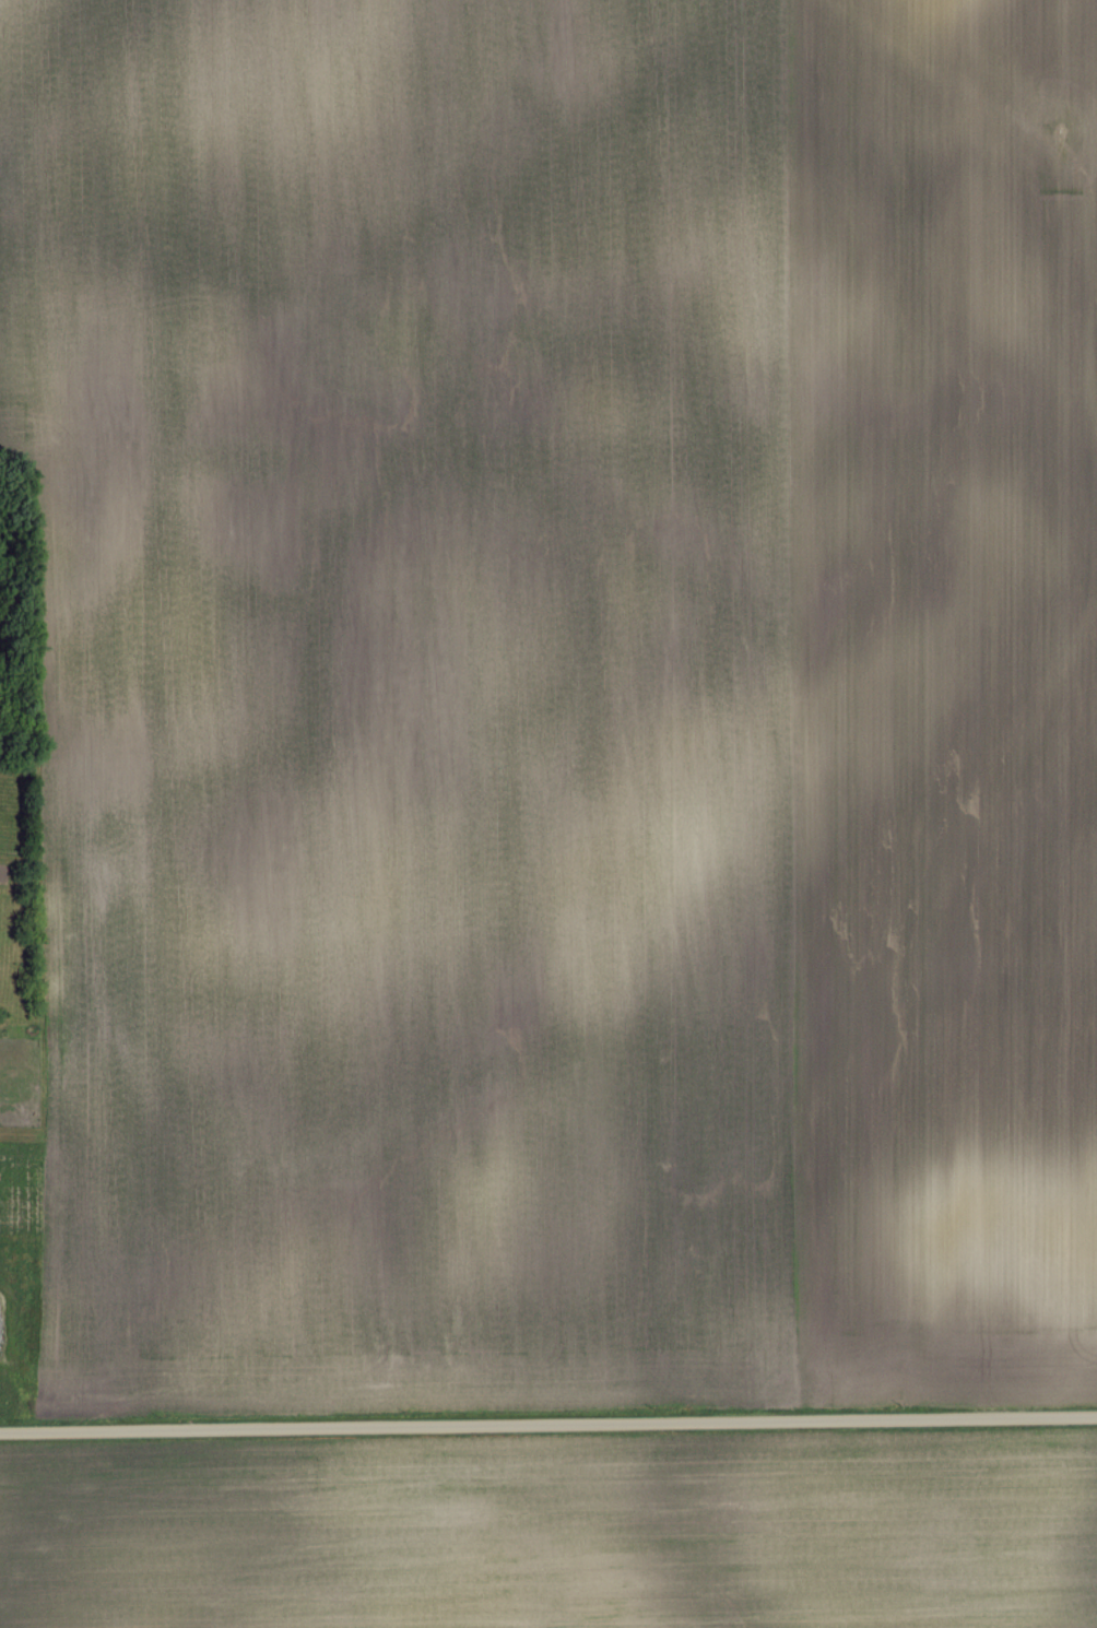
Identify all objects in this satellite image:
road: (548, 1428)

